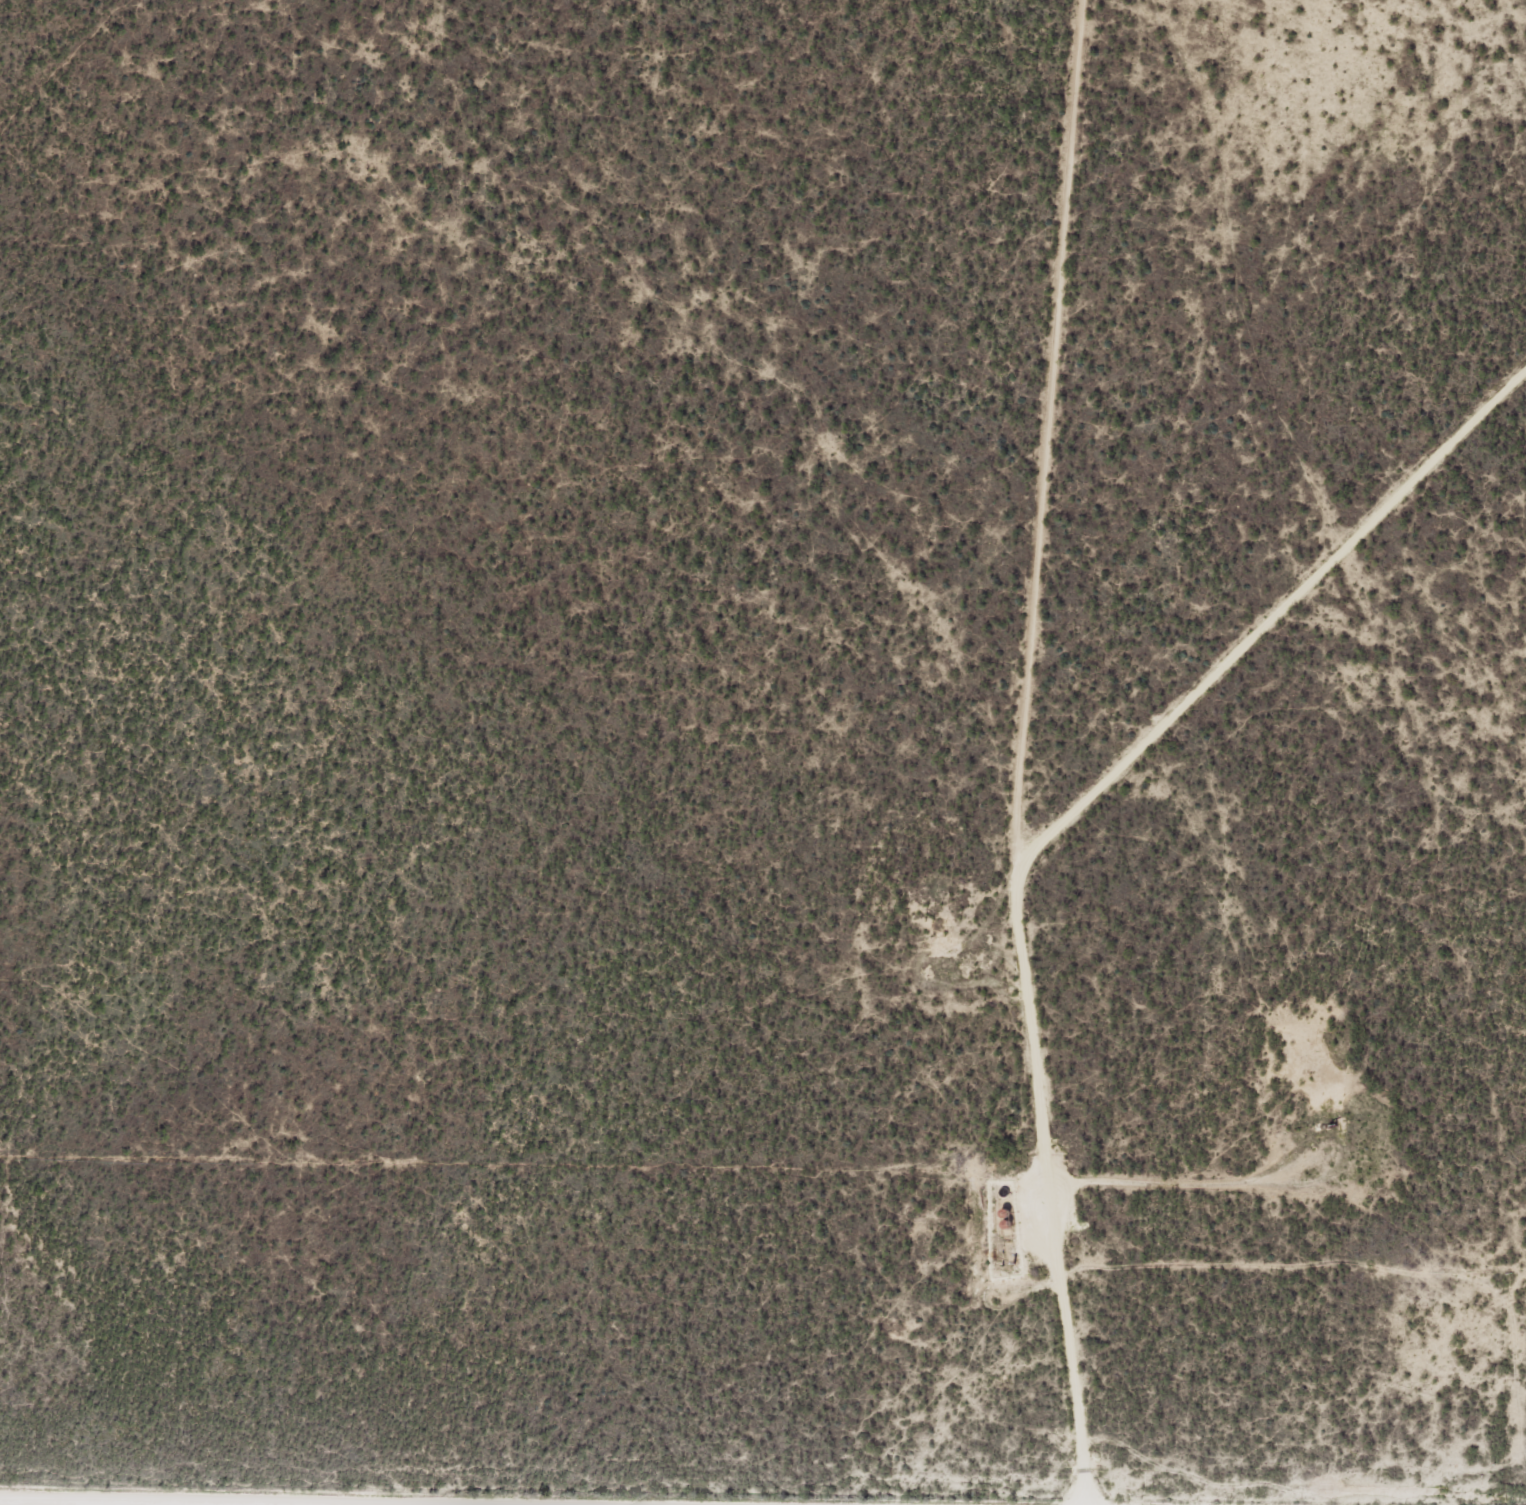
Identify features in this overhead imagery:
road: (1288, 613)
road: (1037, 753)
road: (99, 1502)

